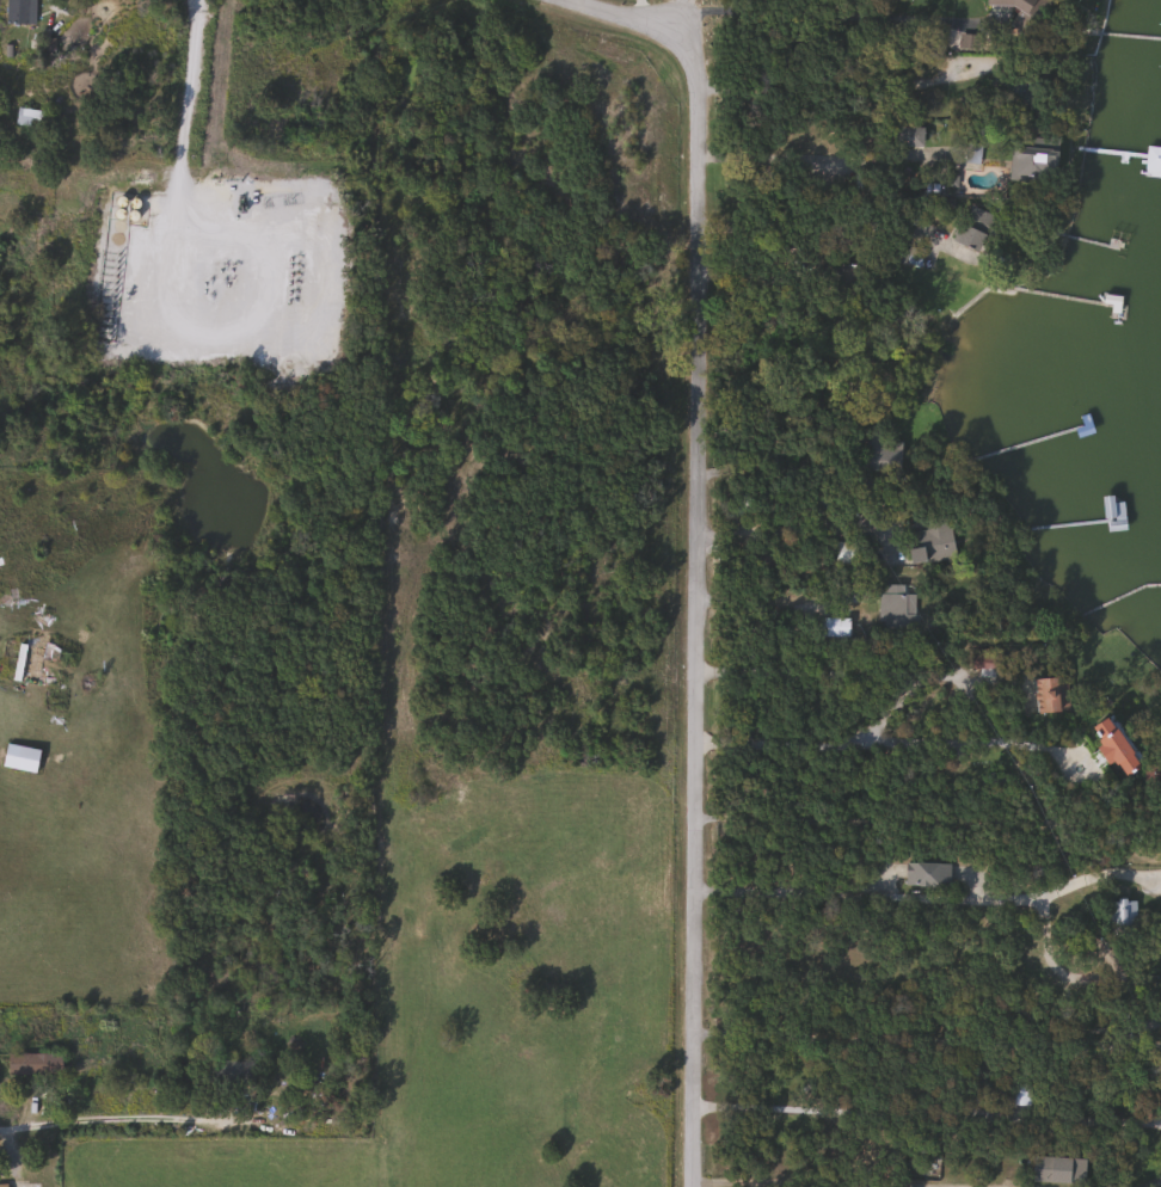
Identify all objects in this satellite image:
building: (1009, 4)
road: (816, 14)
road: (818, 84)
building: (30, 118)
building: (905, 136)
building: (1151, 161)
building: (1031, 166)
building: (971, 228)
building: (308, 272)
building: (881, 453)
building: (1111, 513)
road: (803, 527)
building: (929, 541)
building: (846, 552)
road: (699, 554)
road: (780, 598)
building: (893, 607)
building: (833, 627)
building: (982, 662)
building: (31, 664)
building: (1050, 694)
road: (883, 742)
building: (926, 874)
road: (932, 897)
building: (1119, 918)
building: (33, 1064)
building: (228, 1075)
building: (1019, 1094)
road: (928, 1109)
road: (122, 1126)
building: (1057, 1169)
road: (831, 1182)
road: (1148, 1183)
building: (2, 1185)

